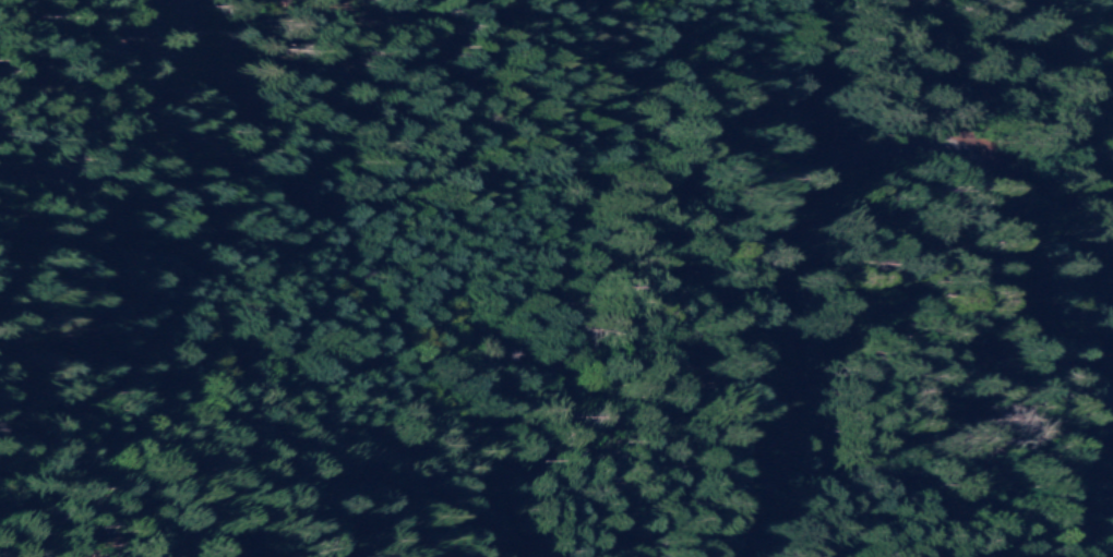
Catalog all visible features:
road: (783, 106)
road: (989, 273)
road: (790, 382)

